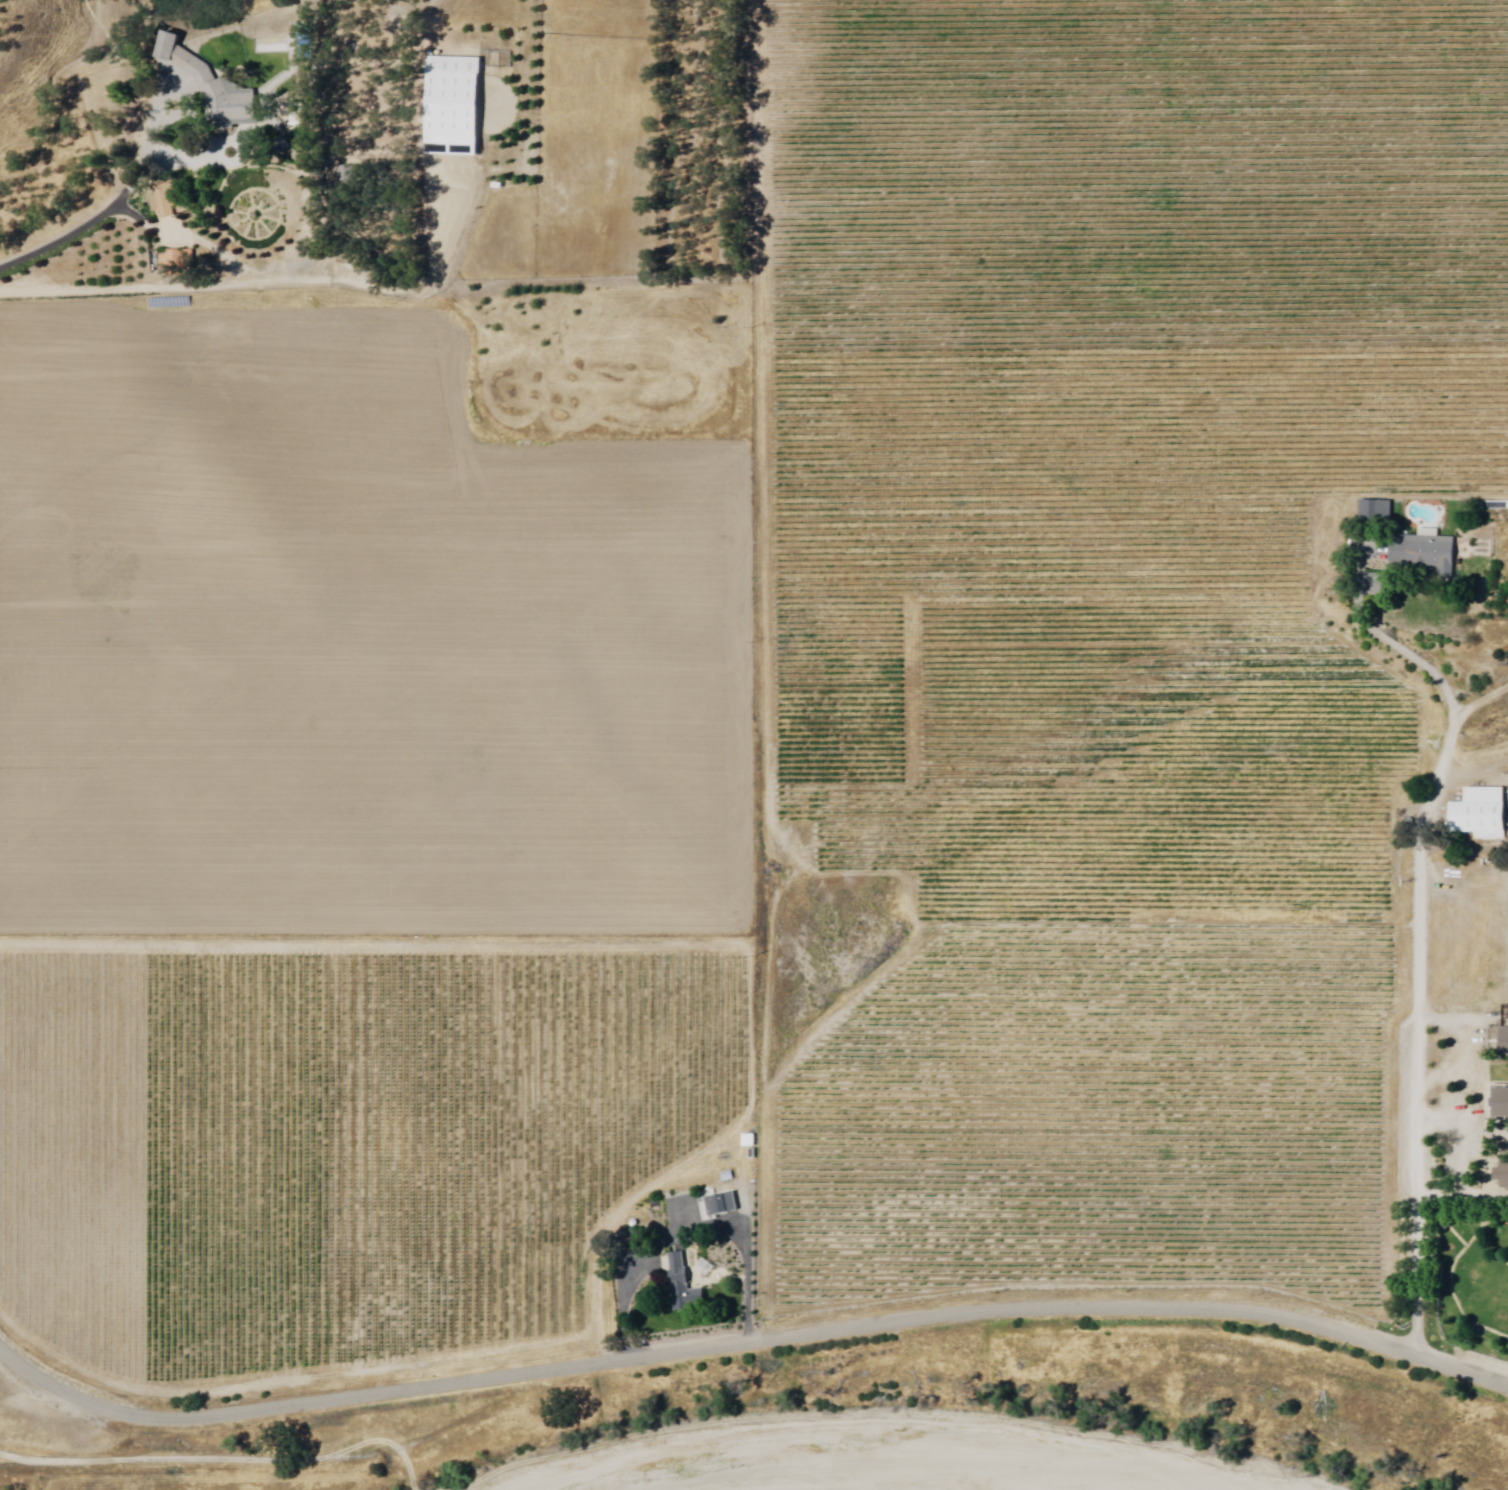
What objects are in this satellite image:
building: (222, 96)
building: (455, 109)
building: (351, 177)
building: (166, 200)
road: (115, 205)
road: (143, 221)
building: (176, 263)
building: (1376, 508)
building: (1427, 552)
building: (1480, 813)
road: (1420, 923)
building: (1505, 1040)
building: (1503, 1101)
building: (1503, 1174)
building: (728, 1176)
building: (720, 1203)
building: (682, 1284)
road: (749, 1339)
river: (1110, 1489)

